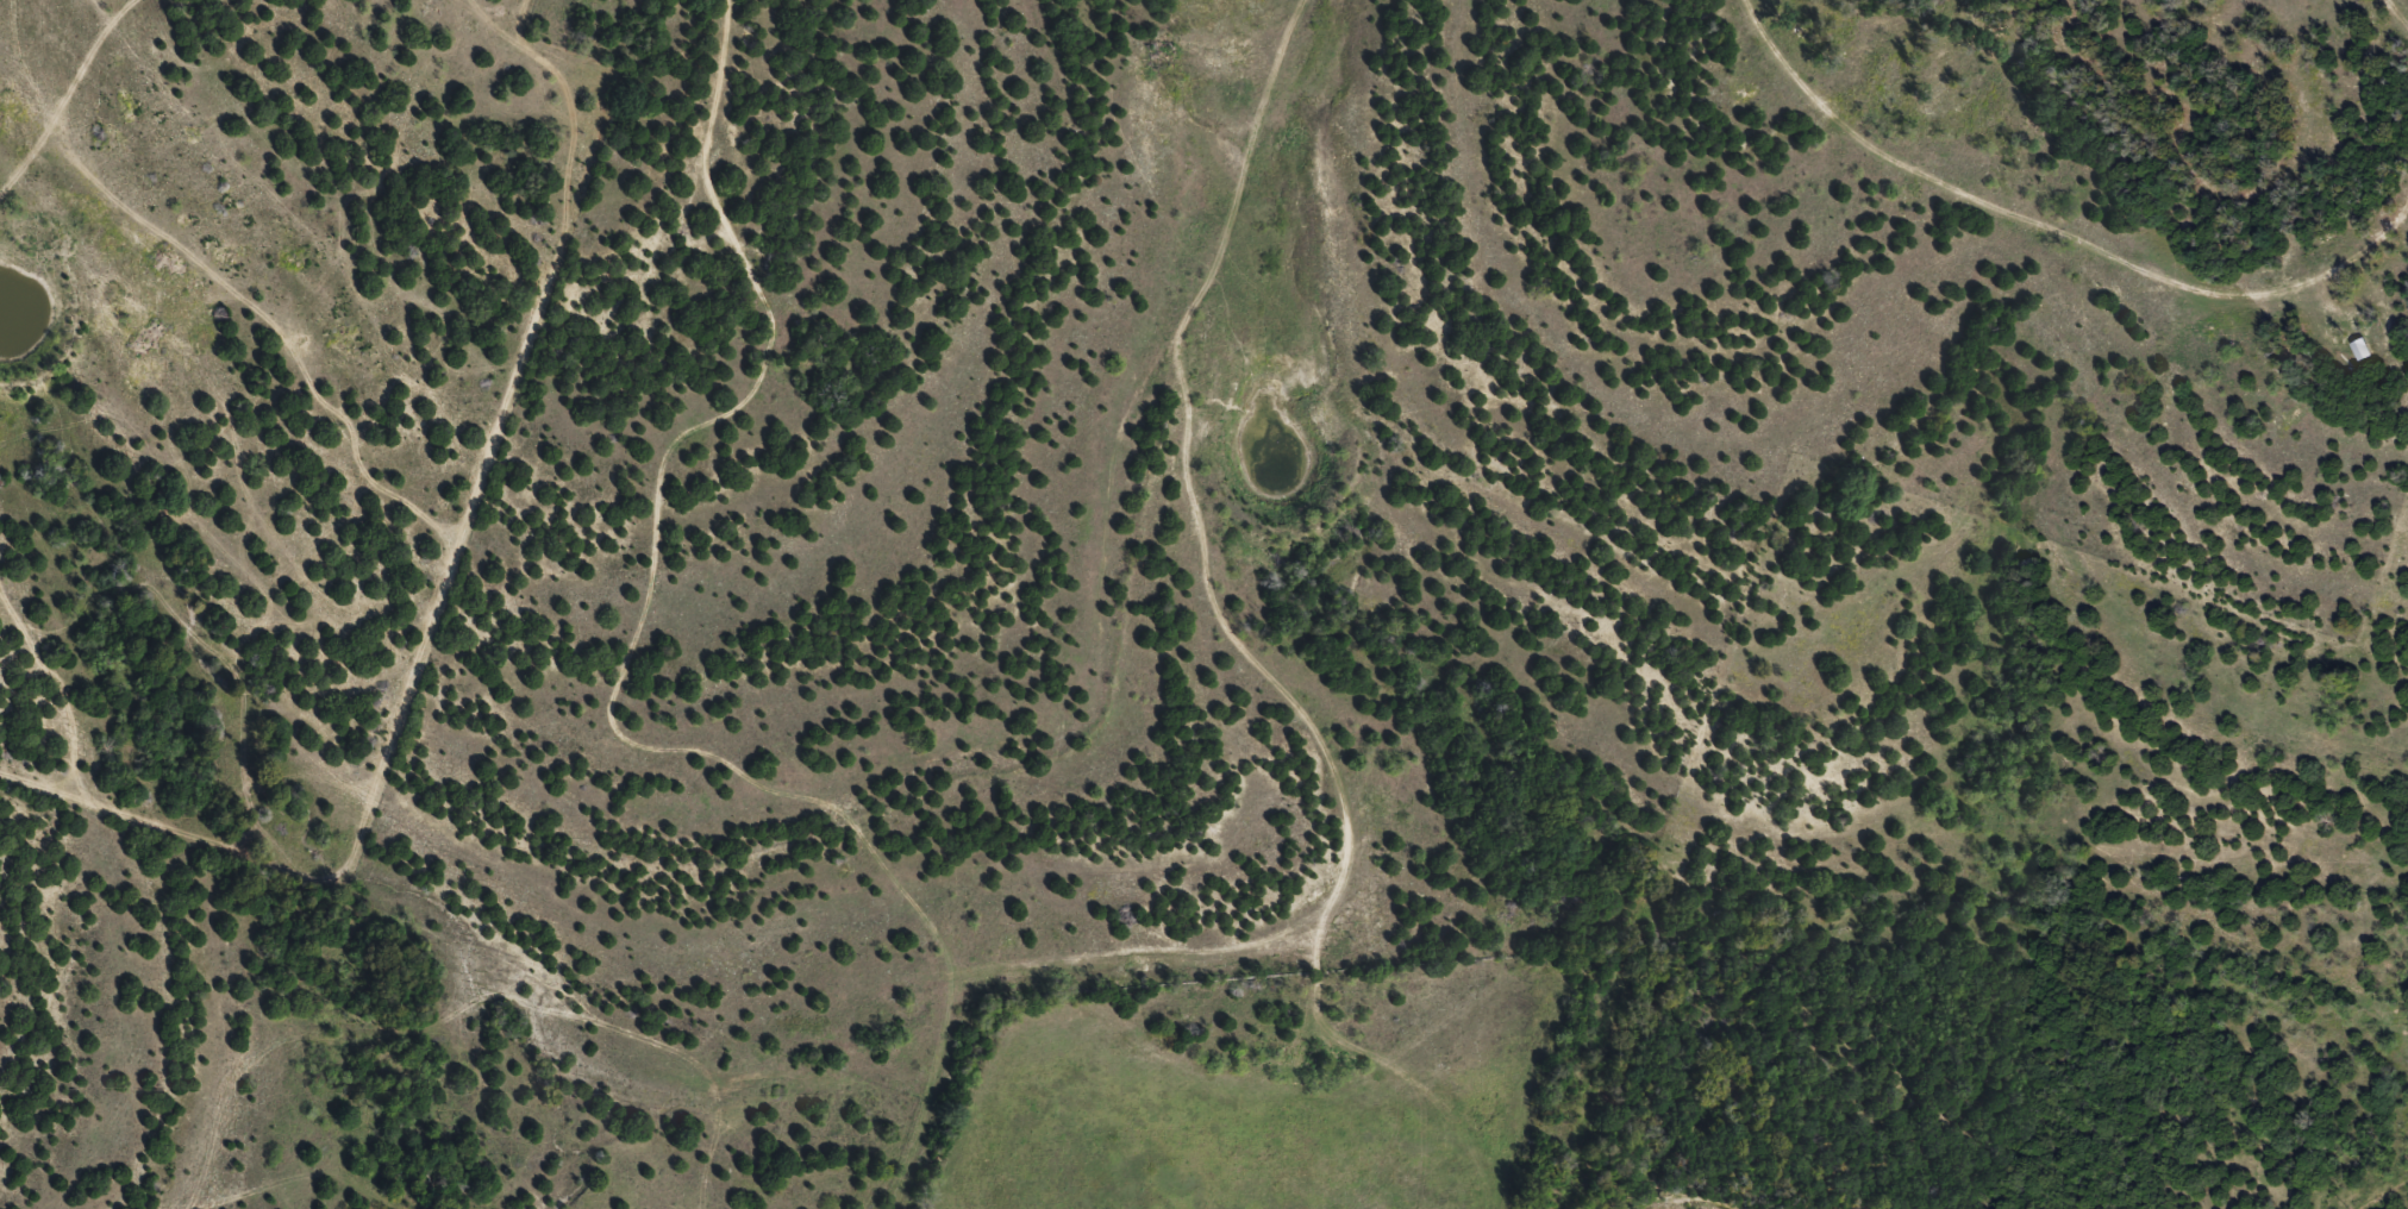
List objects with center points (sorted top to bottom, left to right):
road: (1246, 915)

